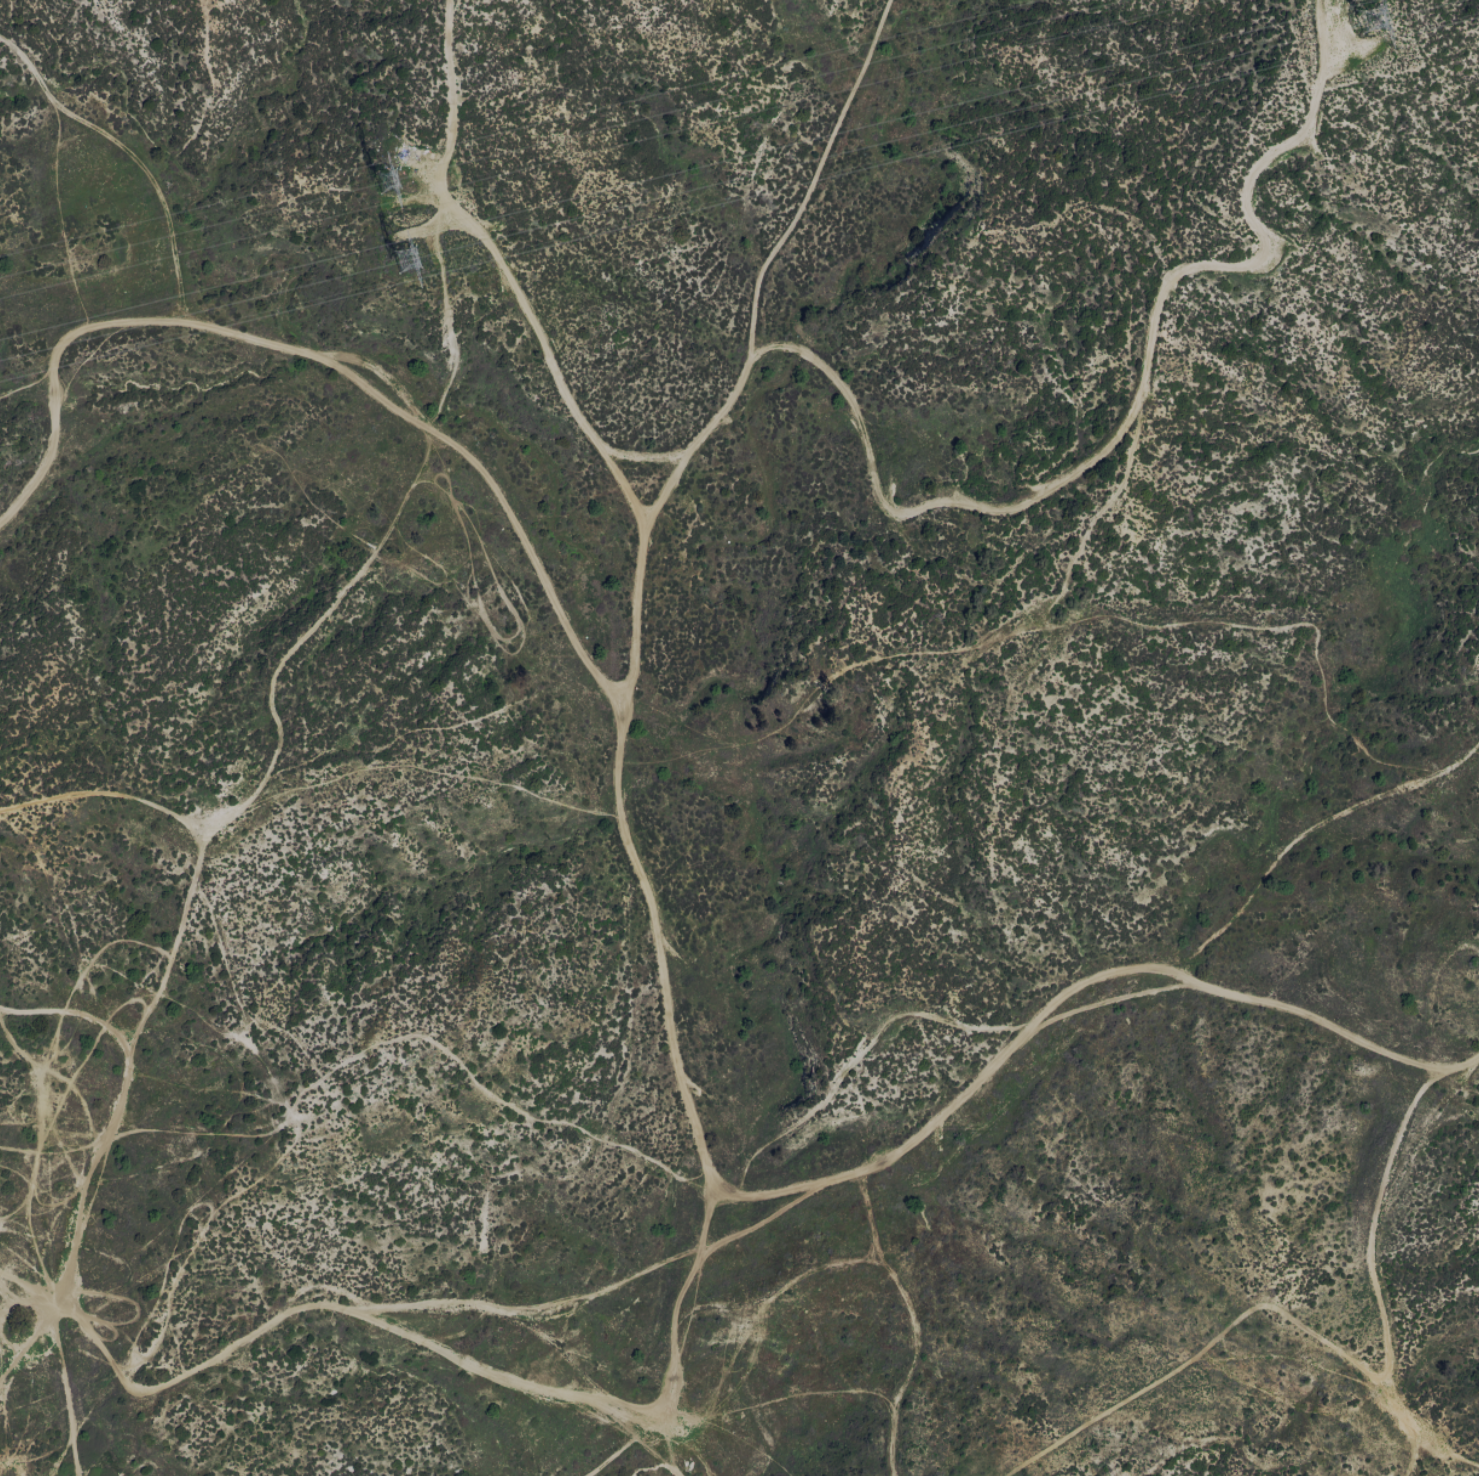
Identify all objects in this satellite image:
power tower: (1360, 21)
power tower: (392, 177)
power tower: (401, 259)
road: (1281, 879)
road: (692, 1074)
road: (46, 1153)

